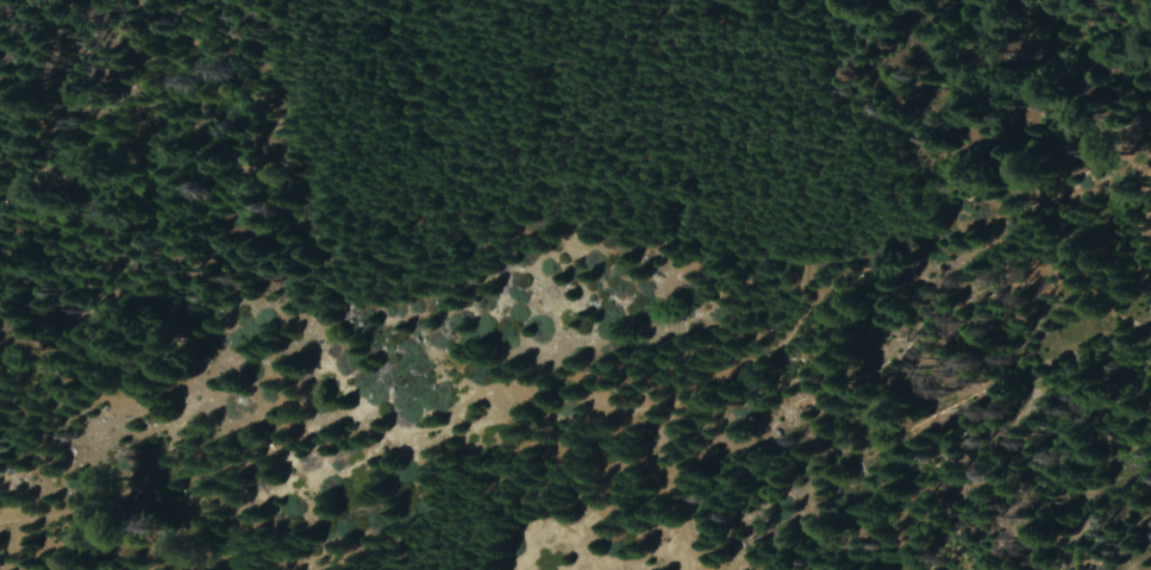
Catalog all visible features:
road: (601, 412)

